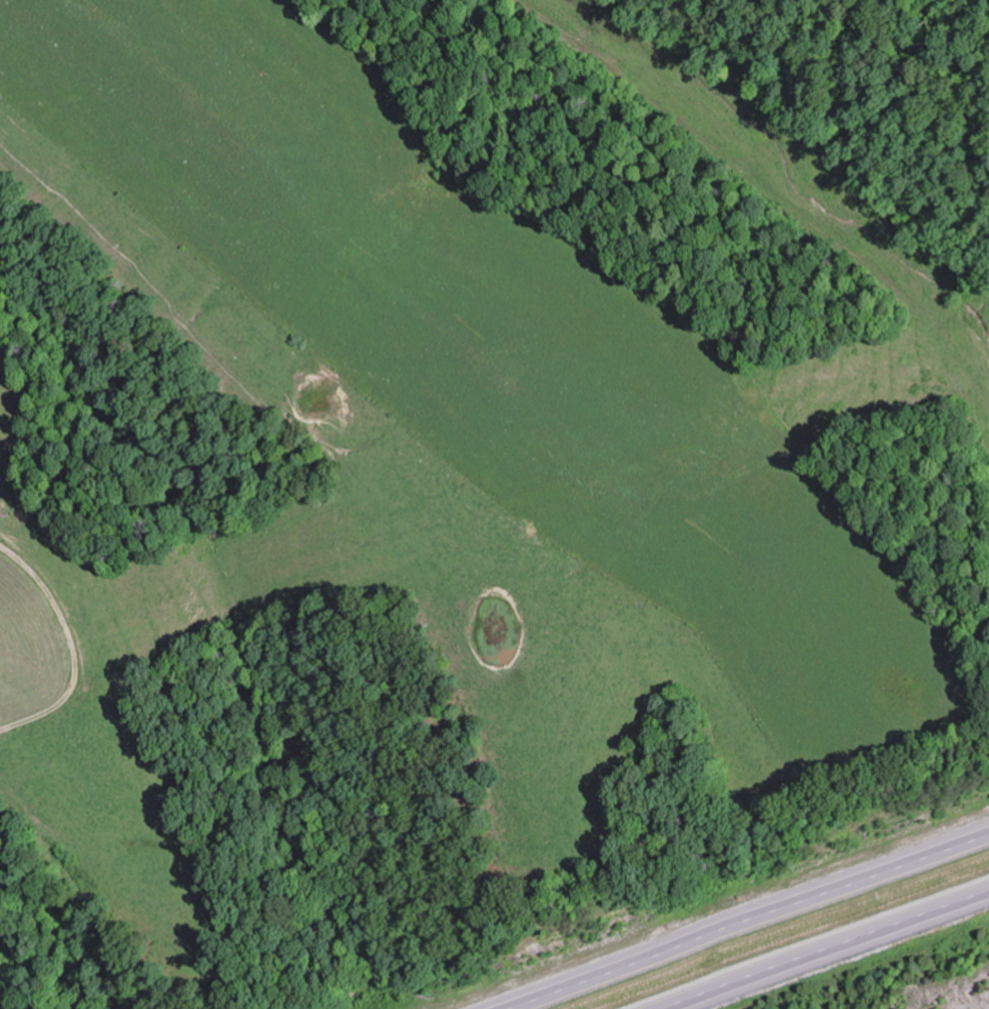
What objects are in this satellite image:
road: (741, 918)
road: (831, 952)

